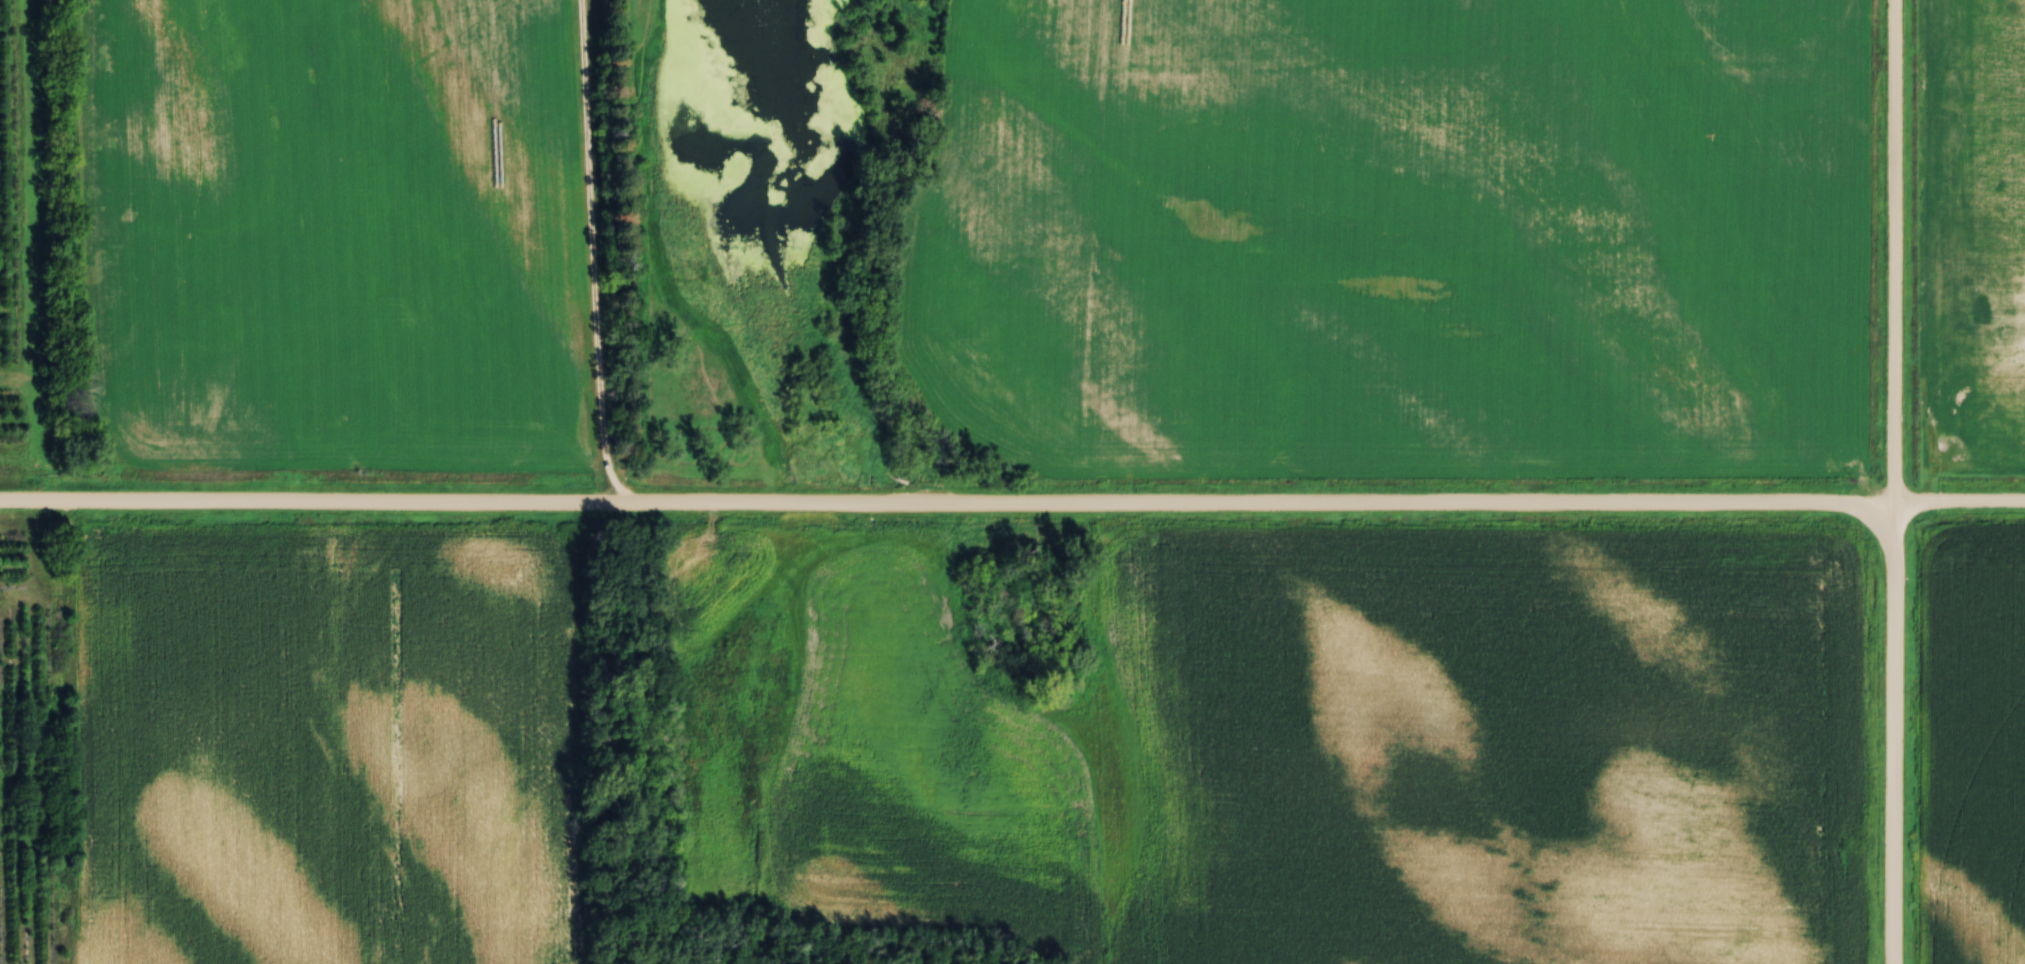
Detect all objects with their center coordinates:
road: (1895, 253)
road: (592, 259)
road: (1960, 505)
road: (947, 506)
road: (1894, 735)

